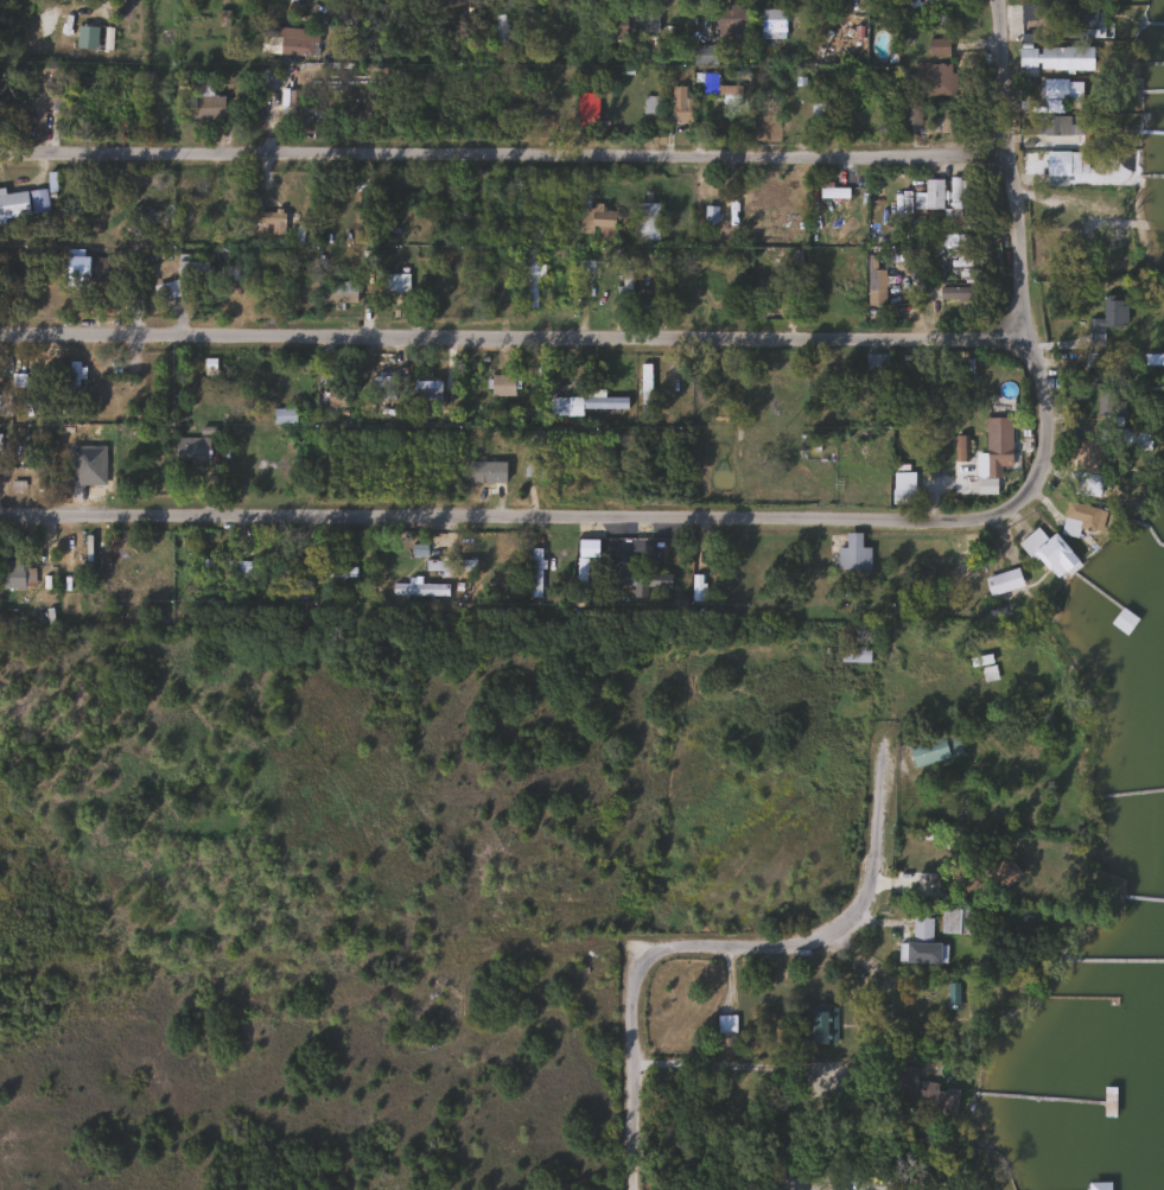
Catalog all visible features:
building: (727, 20)
building: (825, 20)
building: (567, 21)
building: (591, 23)
building: (647, 23)
building: (771, 24)
building: (1082, 24)
building: (616, 27)
building: (498, 31)
building: (285, 33)
building: (937, 46)
building: (1063, 58)
building: (935, 78)
building: (718, 88)
building: (1061, 89)
building: (679, 103)
building: (202, 104)
building: (650, 104)
building: (39, 106)
building: (785, 107)
building: (819, 107)
building: (592, 108)
building: (924, 117)
building: (1055, 125)
road: (507, 157)
building: (1063, 164)
building: (928, 195)
building: (955, 201)
building: (13, 204)
building: (761, 214)
building: (596, 218)
building: (269, 219)
building: (645, 221)
road: (1019, 263)
building: (85, 267)
building: (799, 275)
building: (182, 279)
building: (530, 279)
building: (874, 279)
building: (393, 282)
building: (335, 291)
building: (1056, 292)
road: (516, 330)
building: (867, 381)
building: (502, 384)
building: (383, 386)
building: (72, 388)
building: (644, 392)
building: (336, 396)
building: (584, 405)
building: (5, 406)
building: (1111, 412)
building: (282, 415)
building: (1133, 439)
building: (996, 445)
building: (190, 448)
building: (960, 448)
building: (0, 452)
building: (1088, 456)
building: (483, 458)
building: (533, 466)
building: (1085, 484)
road: (524, 518)
building: (1080, 518)
building: (1048, 553)
building: (79, 558)
building: (450, 565)
building: (225, 567)
building: (963, 571)
building: (335, 572)
building: (534, 573)
building: (15, 575)
building: (580, 575)
building: (632, 580)
building: (698, 581)
building: (301, 591)
building: (1122, 622)
building: (854, 655)
building: (980, 661)
building: (934, 750)
building: (1000, 873)
building: (959, 922)
road: (834, 930)
building: (921, 930)
road: (314, 956)
building: (725, 1024)
building: (820, 1027)
road: (742, 1059)
road: (632, 1068)
building: (929, 1097)
building: (854, 1100)
building: (1108, 1101)

